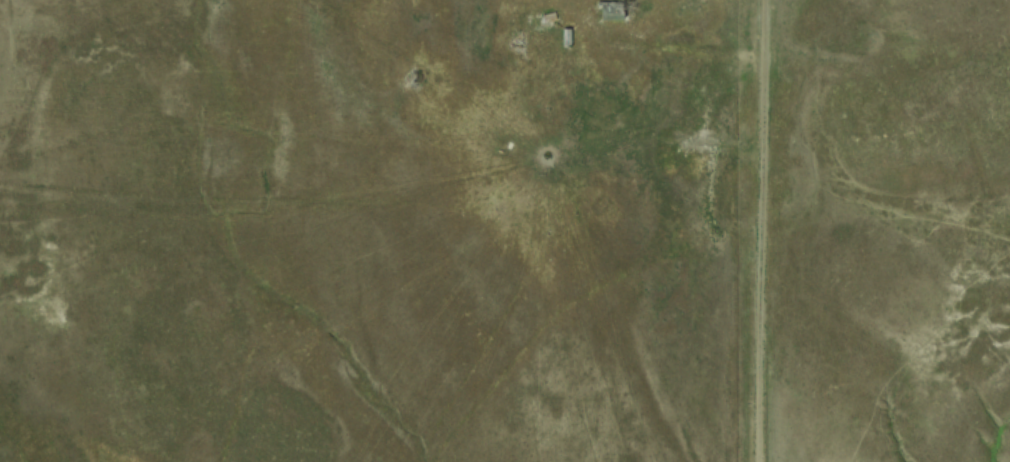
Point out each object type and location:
building: (563, 36)
road: (634, 140)
road: (758, 230)

